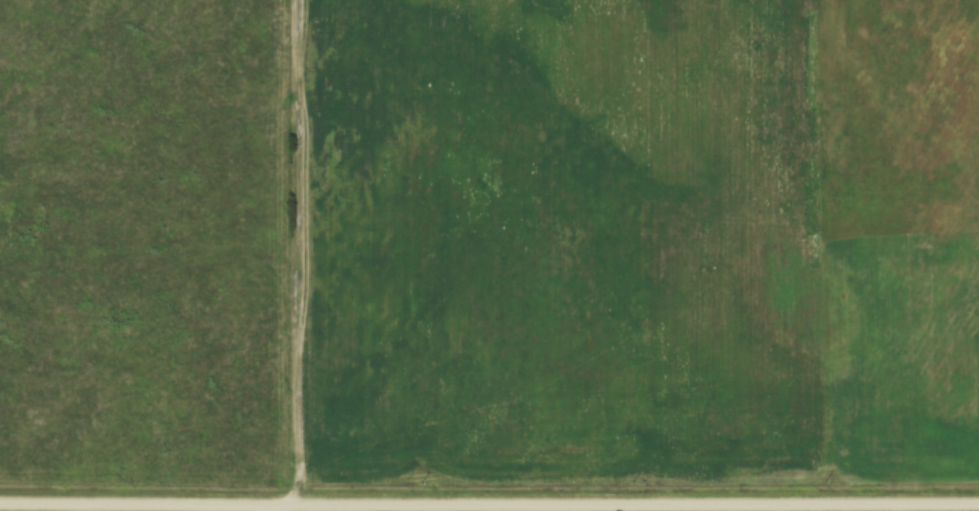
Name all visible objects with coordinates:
road: (304, 253)
road: (489, 506)

